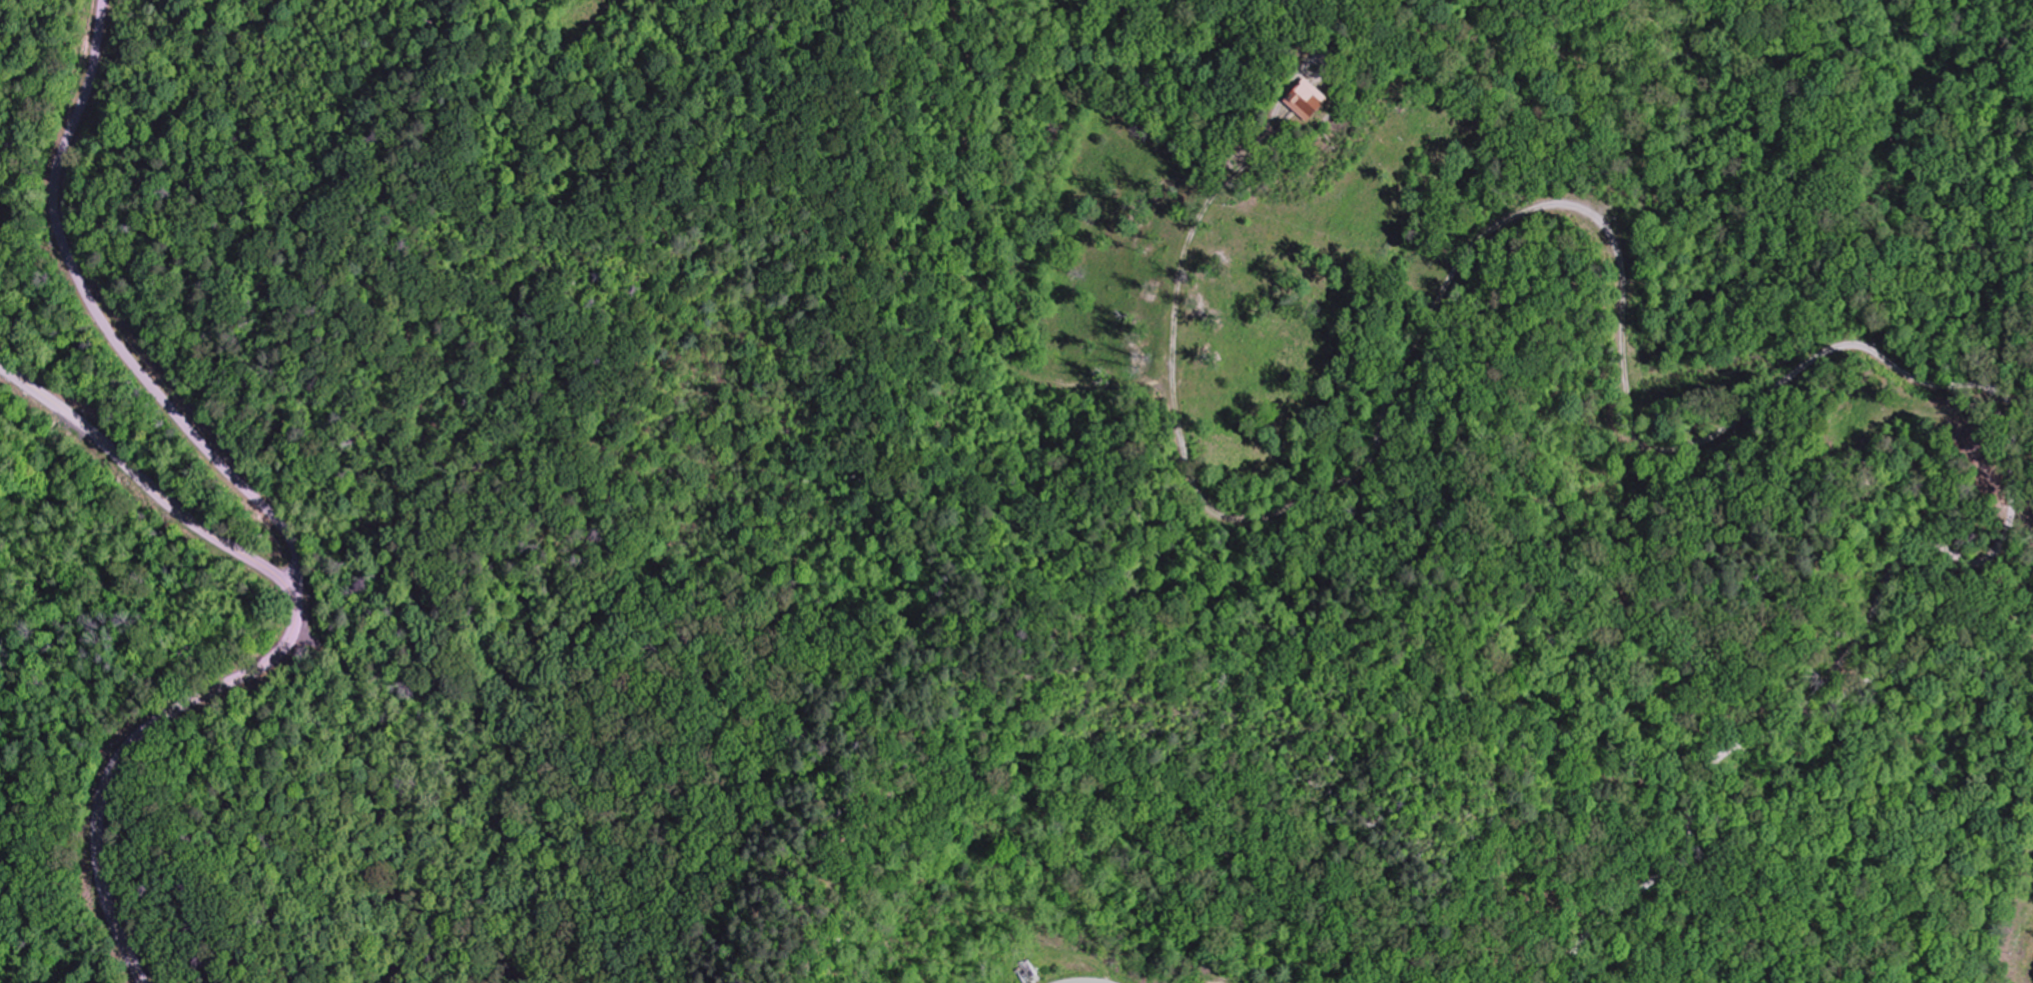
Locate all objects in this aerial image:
building: (1301, 100)
road: (74, 128)
road: (35, 257)
road: (1619, 278)
road: (186, 425)
road: (142, 480)
road: (1737, 745)
road: (128, 750)

